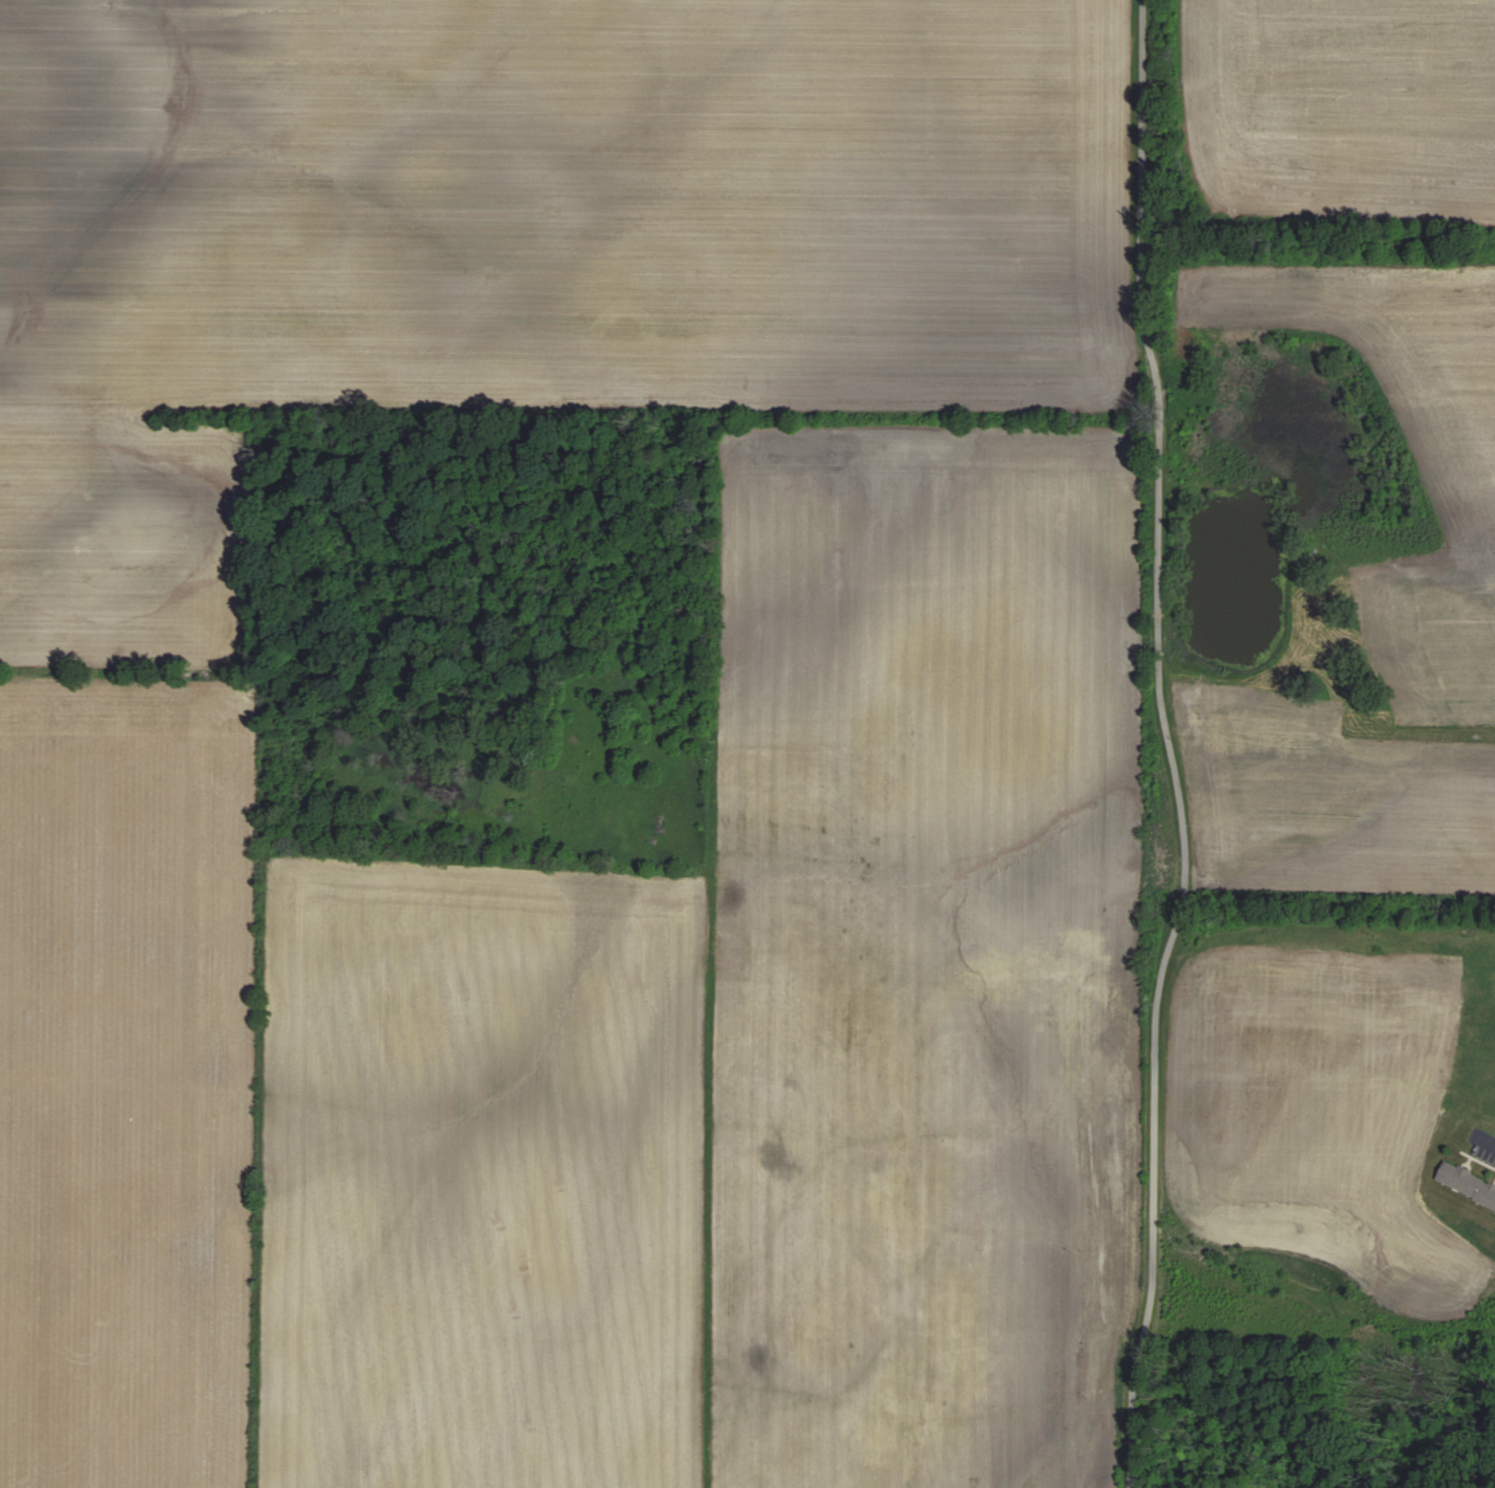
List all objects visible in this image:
road: (1168, 745)
road: (1489, 1137)
building: (1467, 1185)

